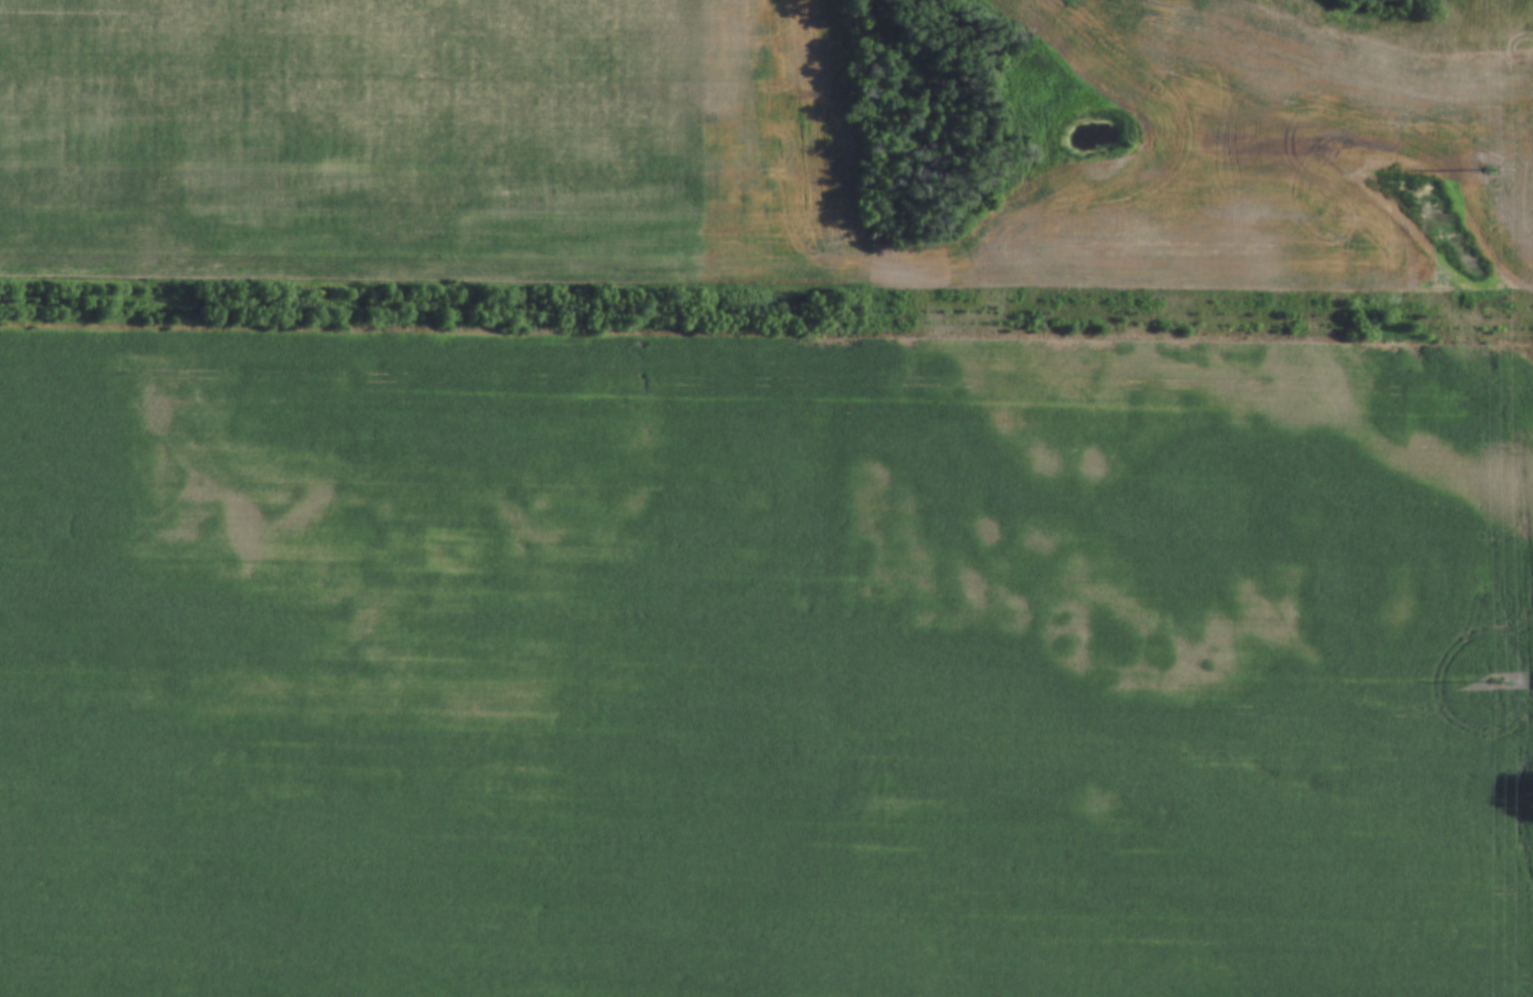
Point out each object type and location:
power tower: (1489, 169)
power tower: (1505, 682)

